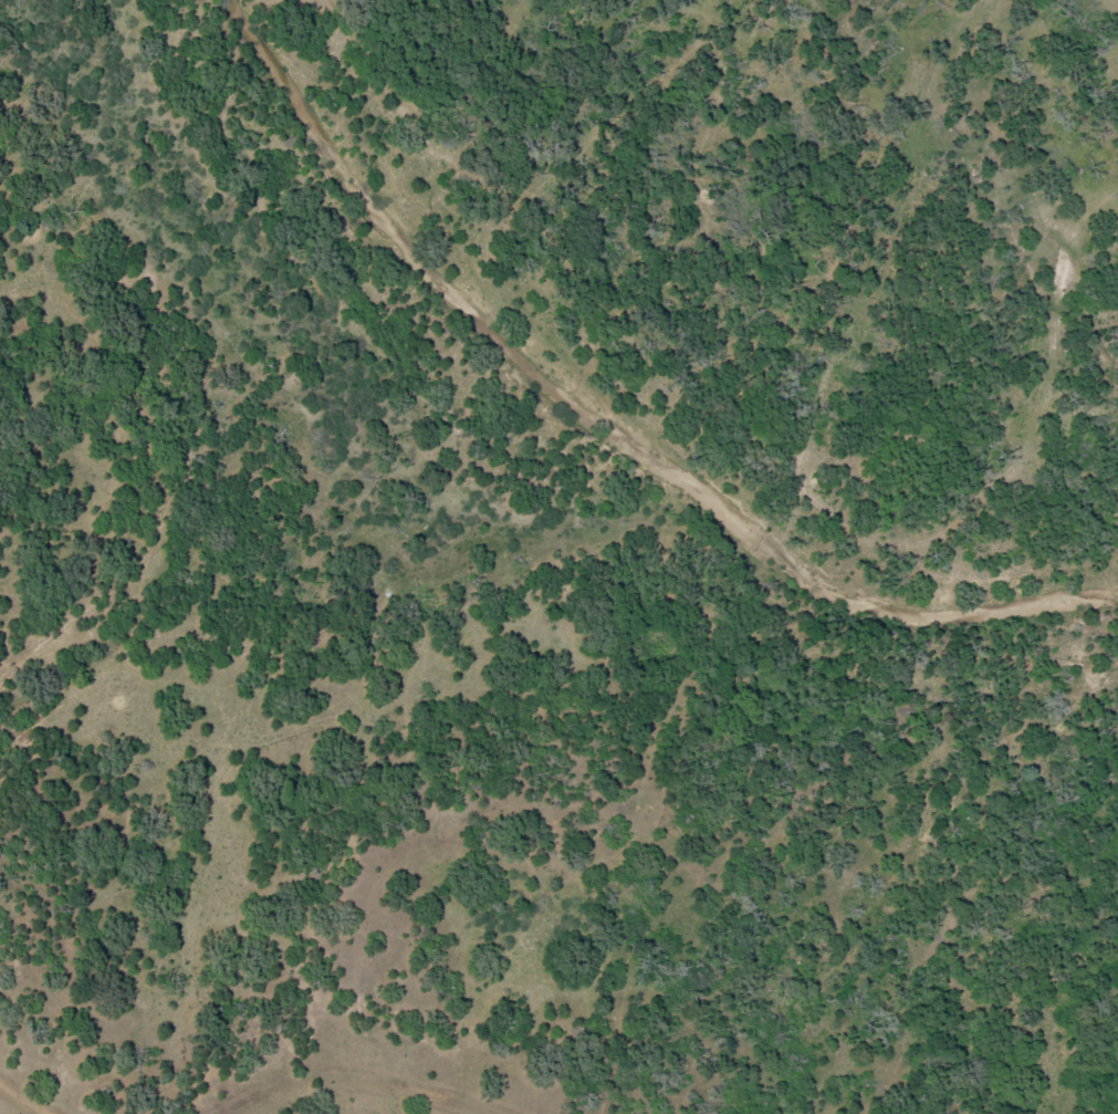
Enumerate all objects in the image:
road: (349, 1074)
road: (23, 1097)

